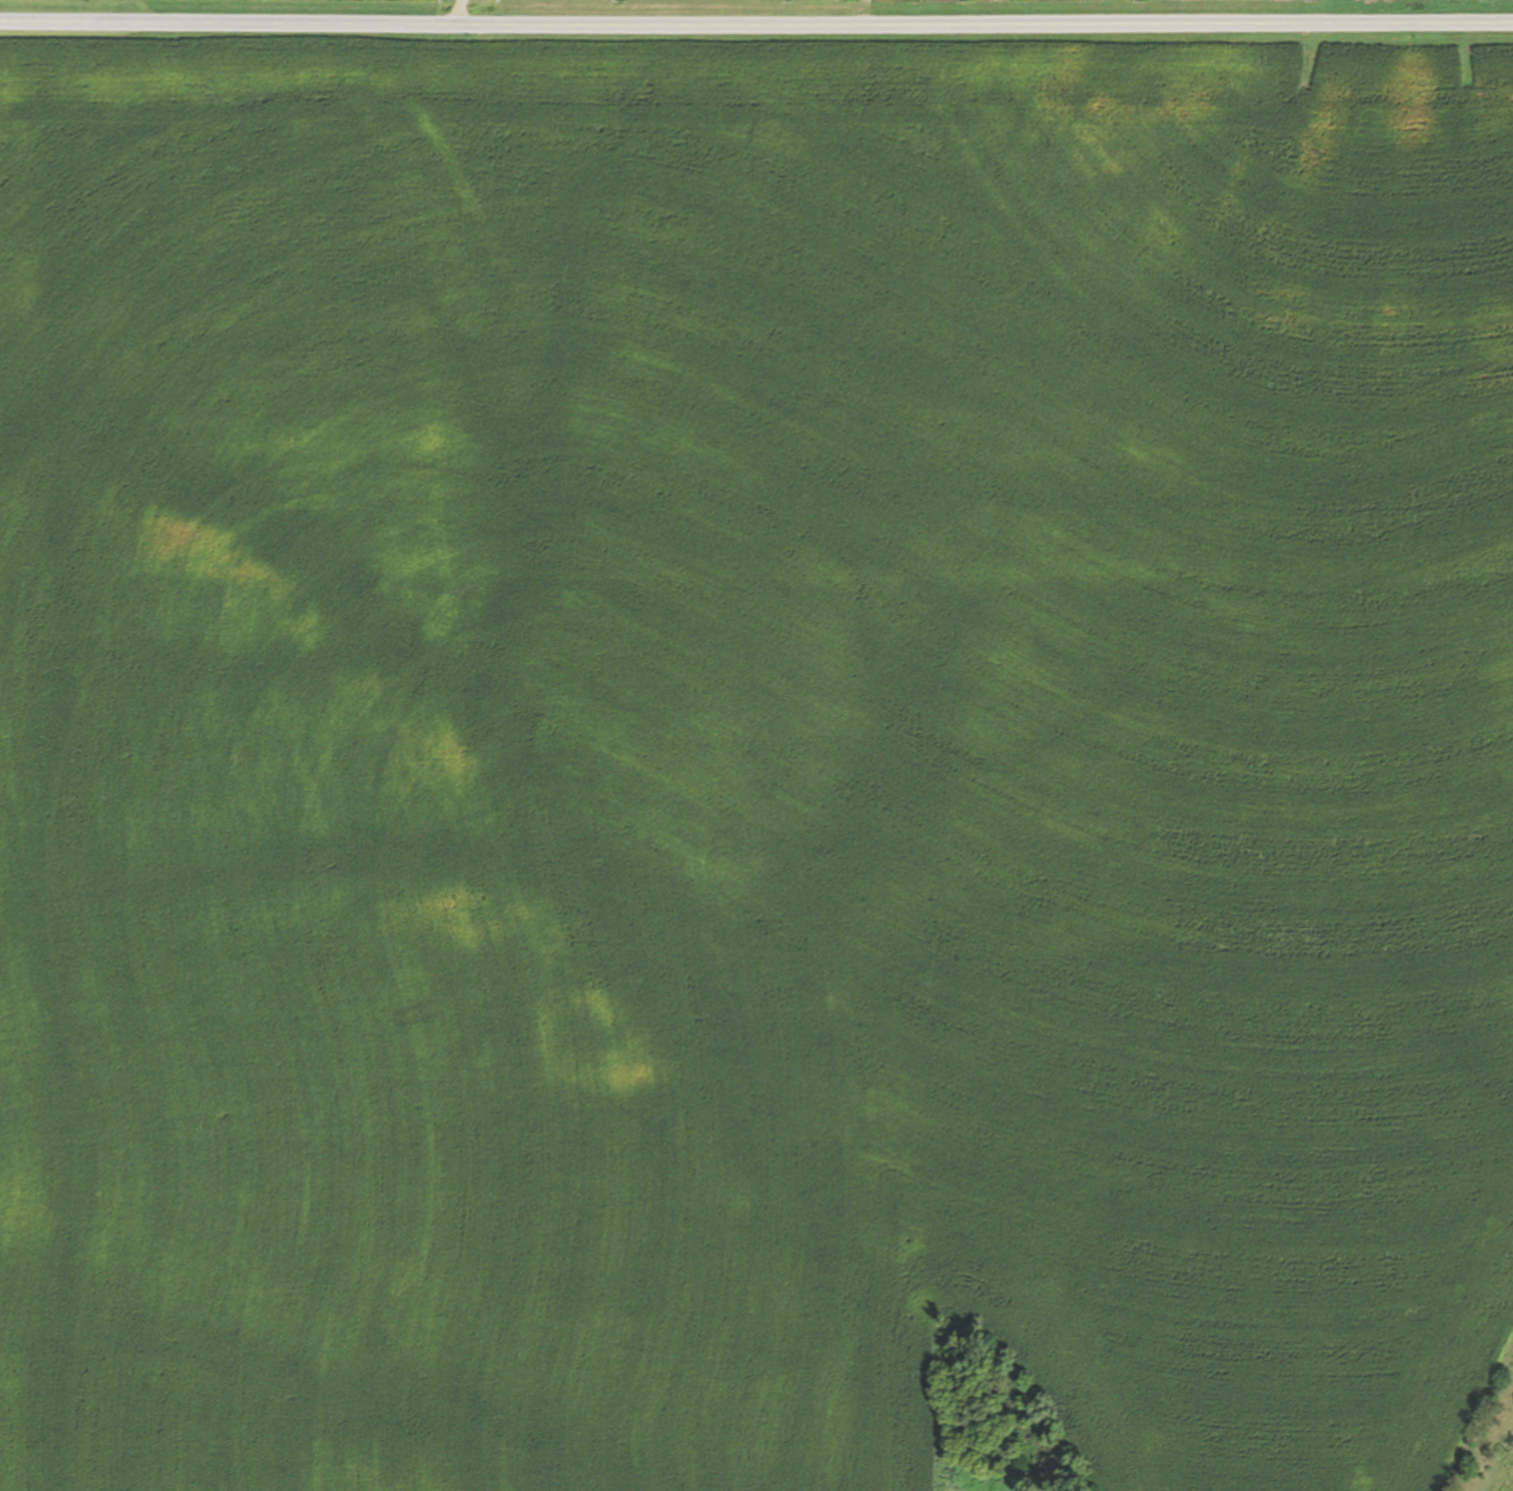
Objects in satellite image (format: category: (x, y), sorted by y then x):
road: (453, 14)
road: (756, 27)

